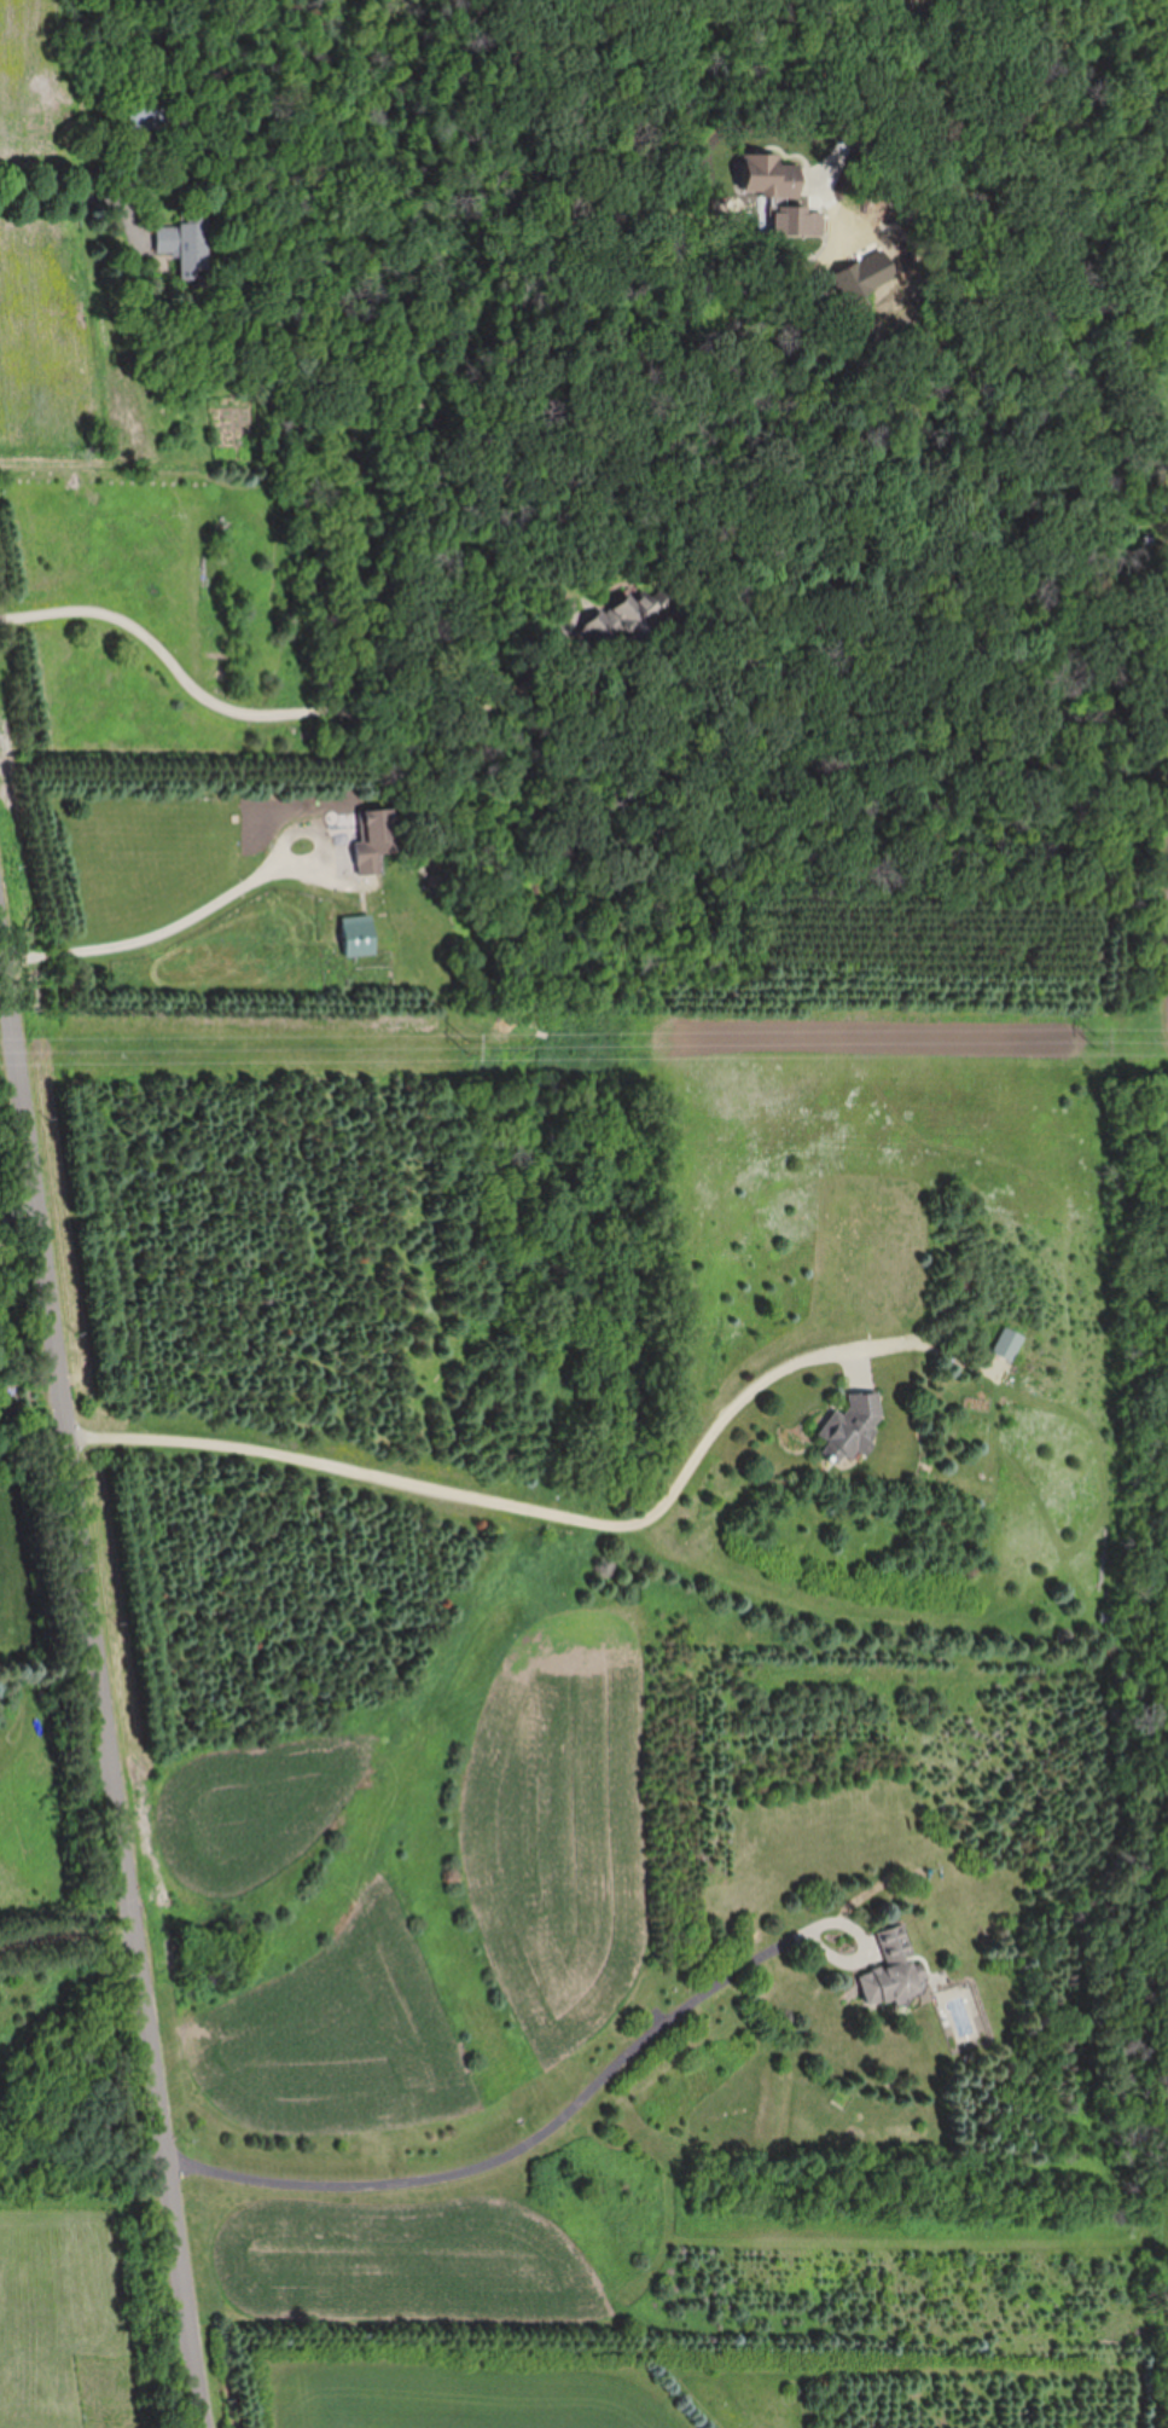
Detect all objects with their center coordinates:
road: (887, 87)
building: (145, 123)
road: (144, 175)
building: (769, 176)
building: (186, 241)
building: (635, 616)
road: (304, 718)
road: (304, 831)
building: (373, 839)
building: (359, 935)
road: (149, 937)
power tower: (1098, 1039)
power tower: (477, 1045)
building: (1009, 1342)
road: (43, 1392)
road: (13, 1393)
road: (13, 1408)
building: (852, 1422)
road: (499, 1494)
road: (98, 1667)
road: (65, 1935)
building: (893, 1968)
road: (545, 2134)

